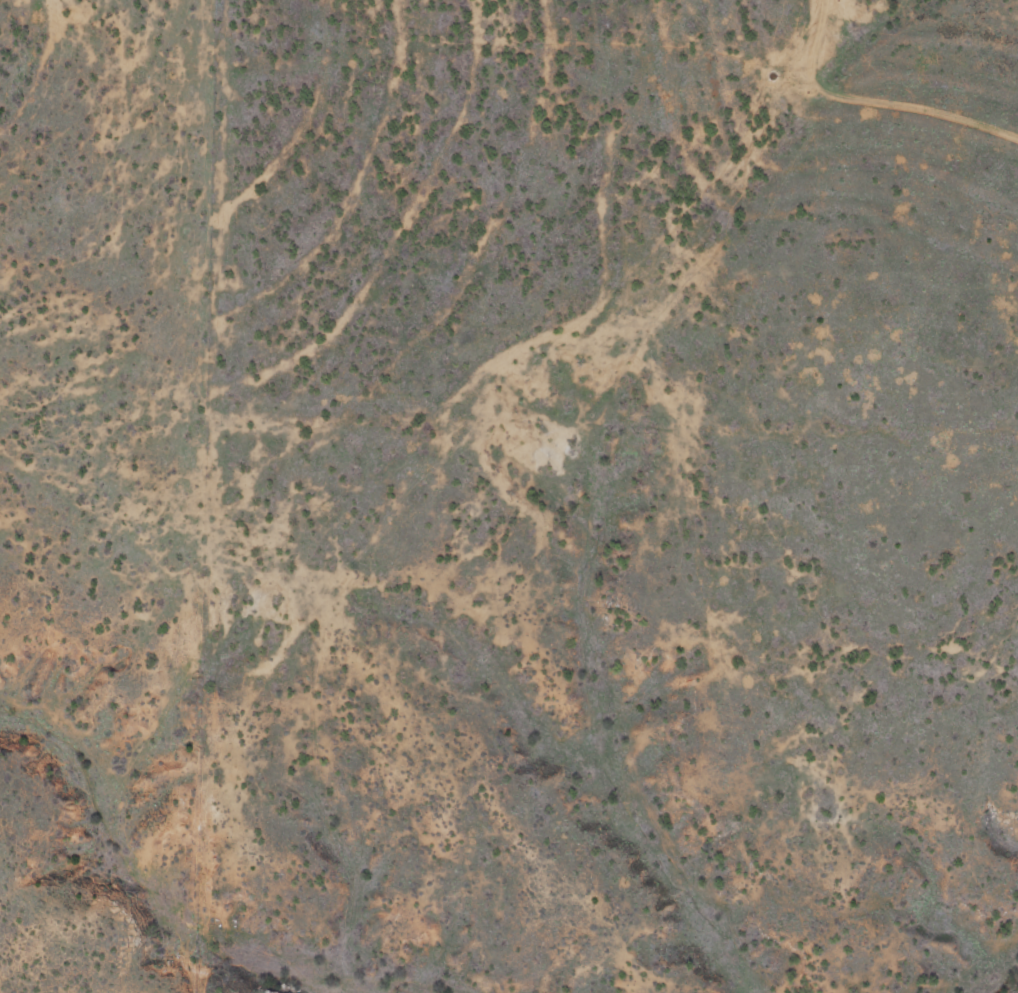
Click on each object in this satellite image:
road: (884, 105)

